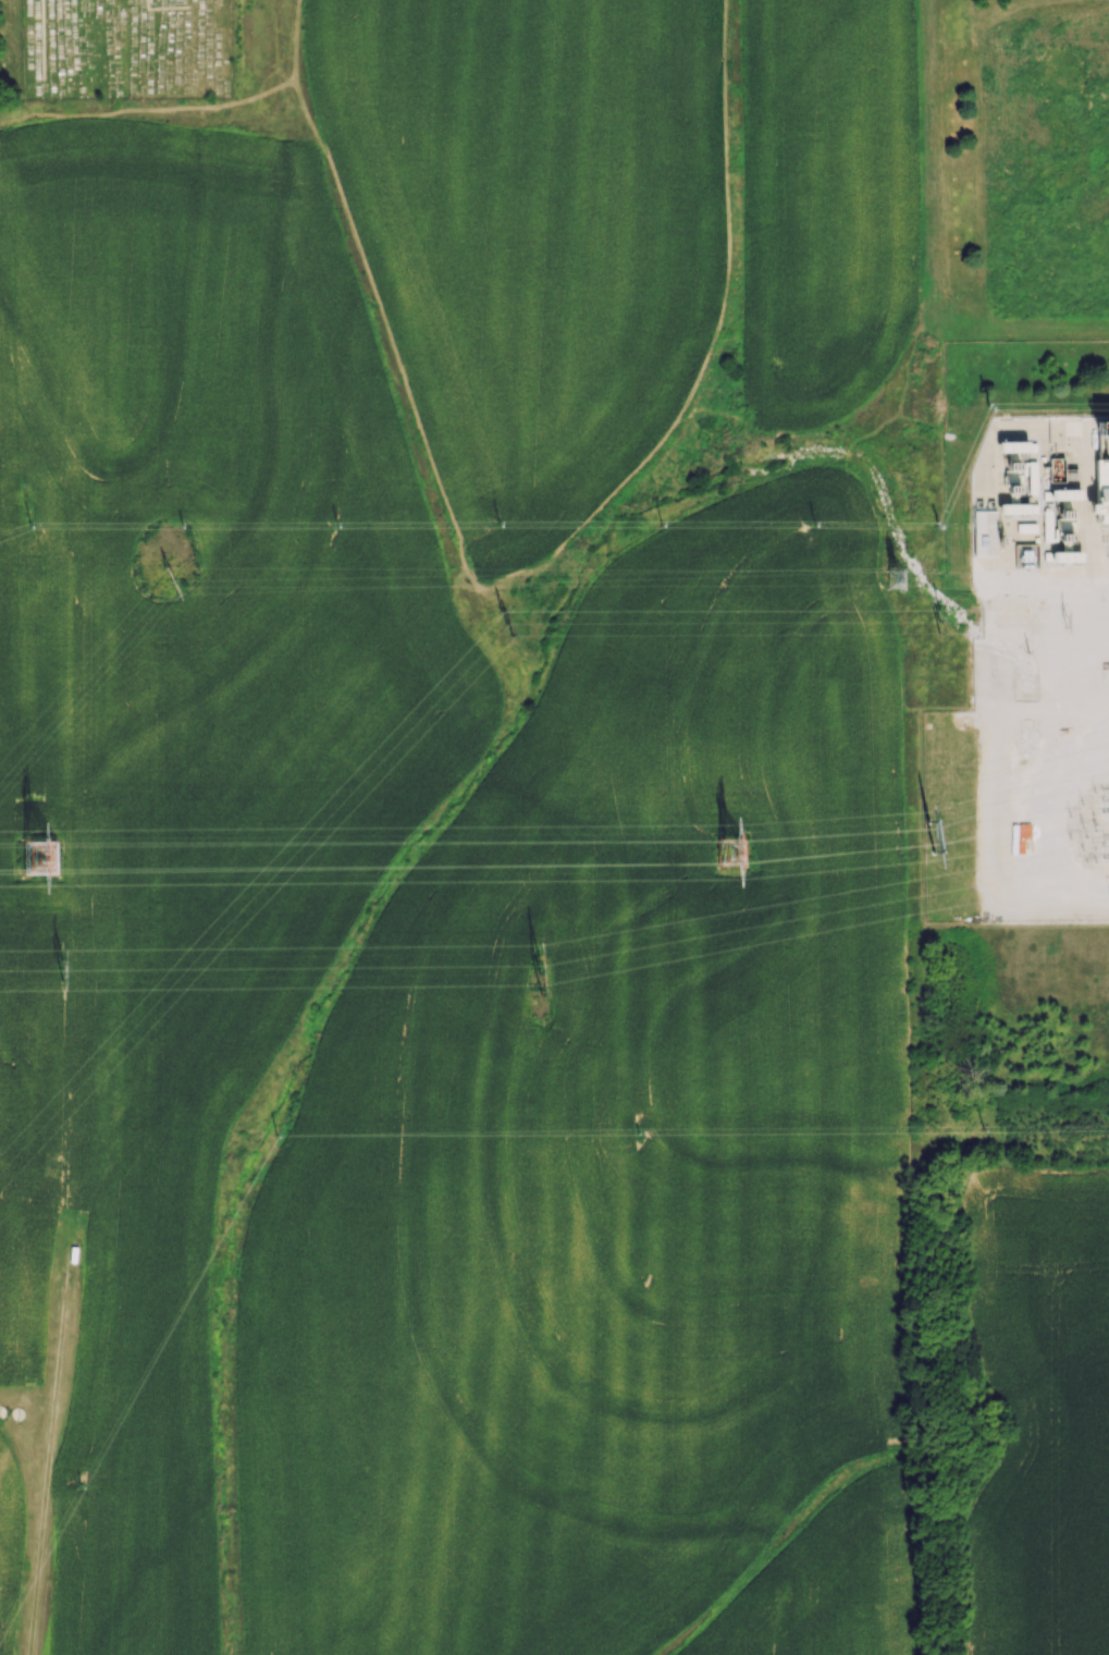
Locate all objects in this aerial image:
building: (1013, 469)
building: (1100, 492)
building: (984, 532)
power tower: (900, 579)
power tower: (176, 580)
power tower: (947, 623)
power tower: (1073, 623)
power tower: (514, 625)
power substation: (1044, 673)
power tower: (933, 842)
power tower: (732, 851)
power tower: (42, 858)
power tower: (70, 967)
power tower: (543, 970)
crop: (1040, 1410)
road: (50, 1445)

